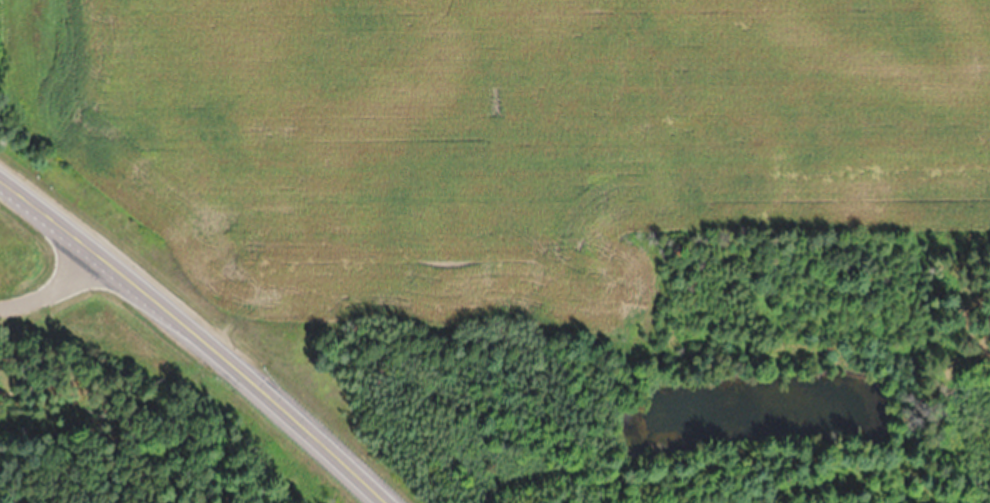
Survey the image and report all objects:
road: (54, 291)
road: (196, 333)

